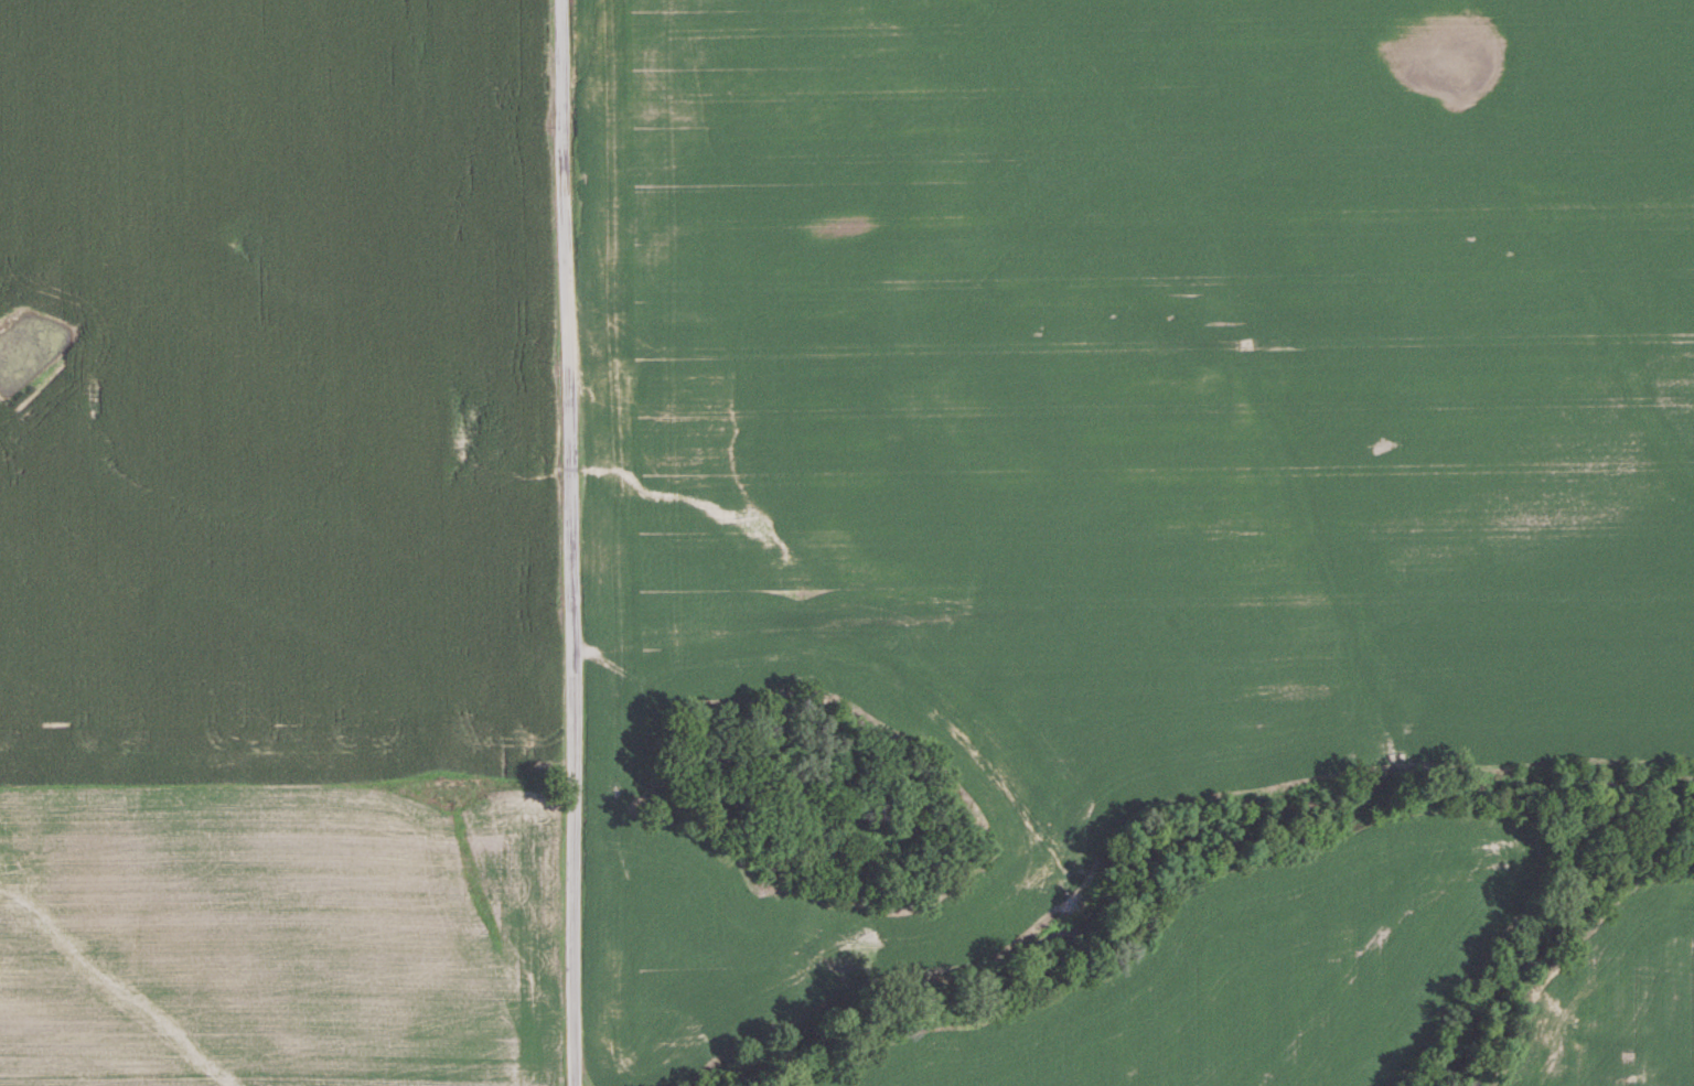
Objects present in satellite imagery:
crop: (276, 388)
crop: (1115, 427)
road: (571, 542)
crop: (1258, 971)
crop: (1617, 997)

